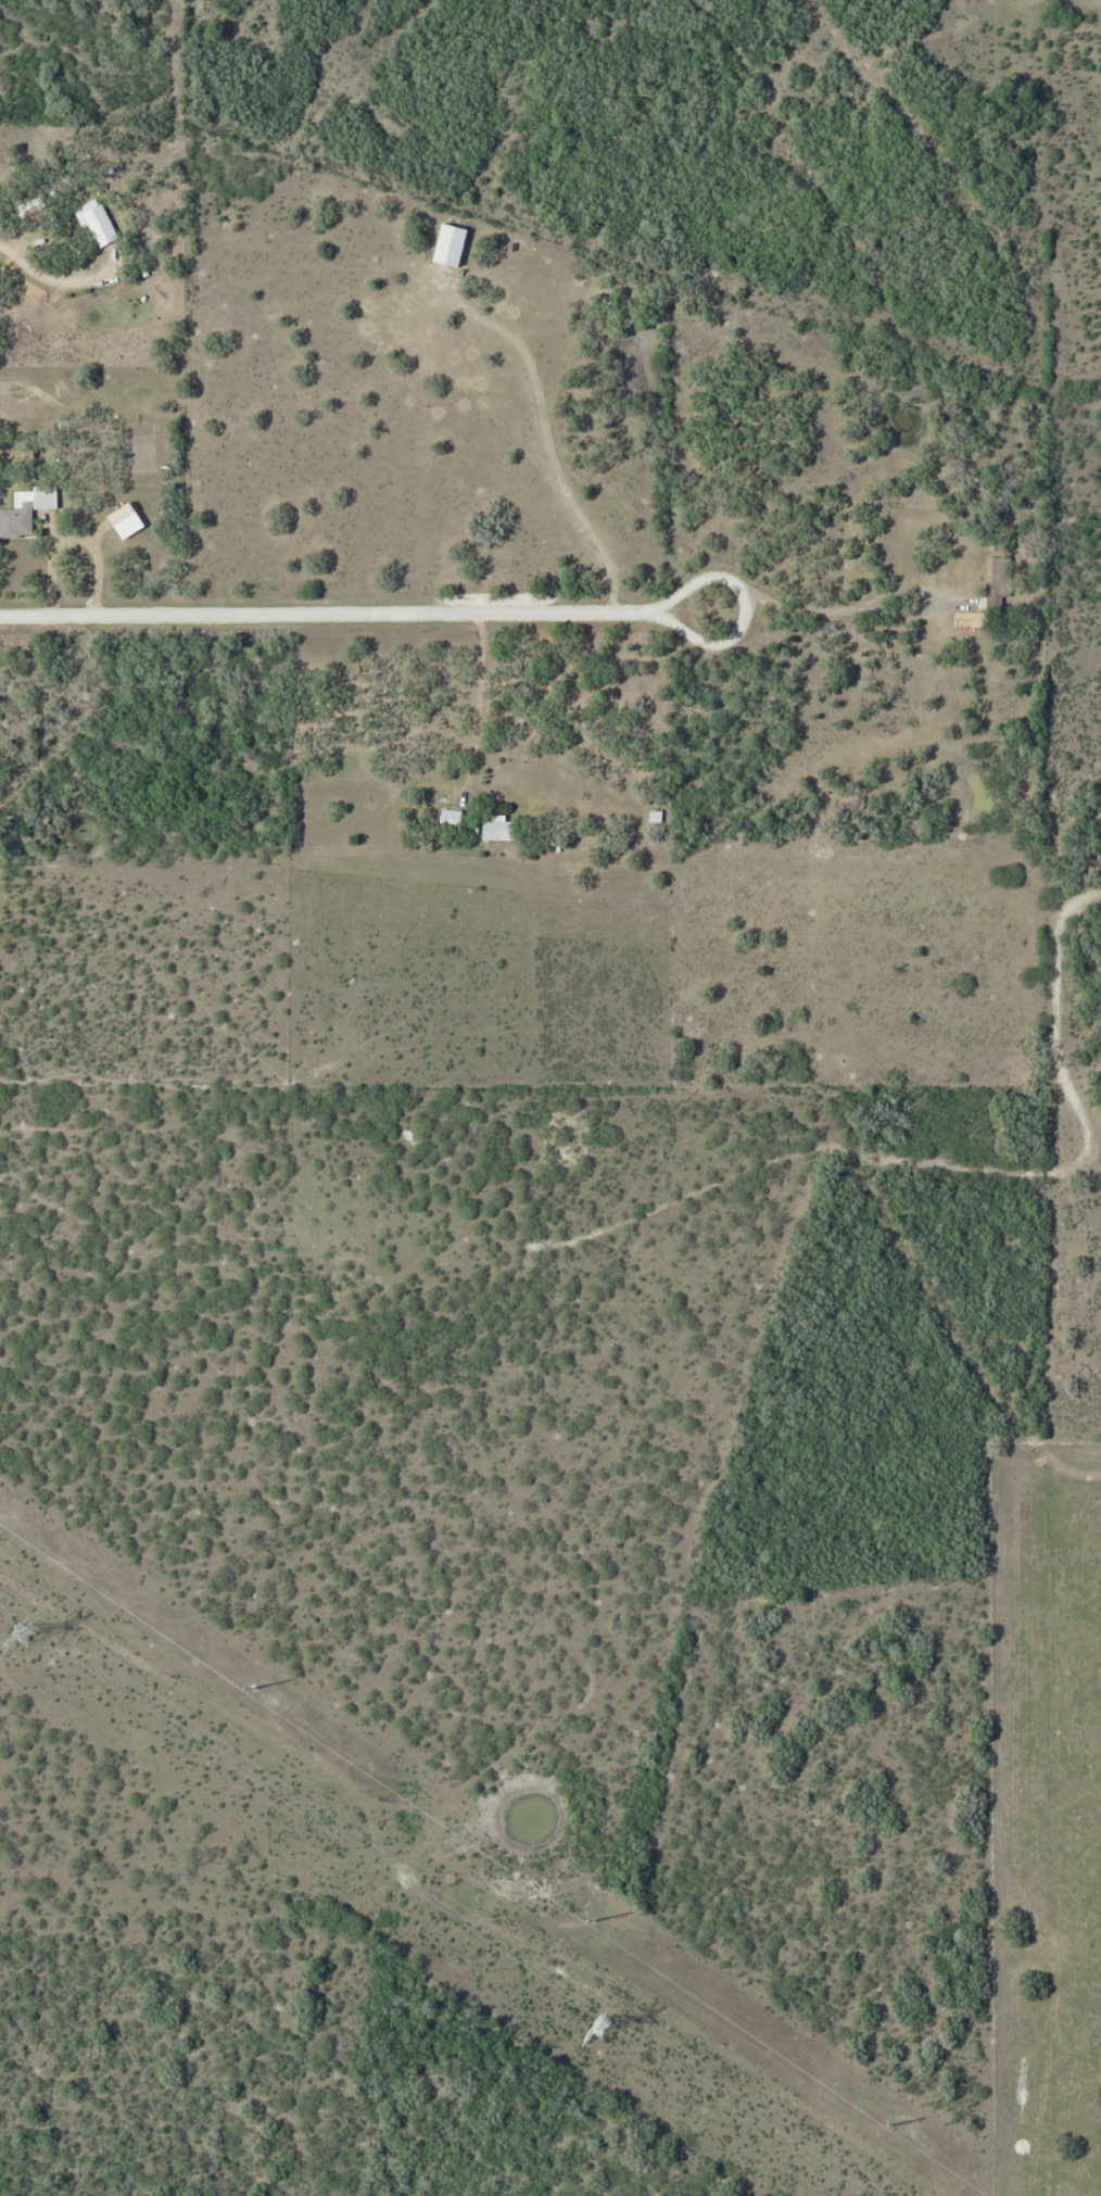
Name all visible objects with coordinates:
building: (102, 223)
building: (451, 245)
road: (58, 283)
building: (45, 497)
building: (15, 520)
road: (55, 568)
building: (999, 582)
road: (324, 610)
building: (967, 619)
building: (655, 816)
building: (452, 817)
building: (495, 829)
power tower: (30, 1636)
power tower: (605, 2025)

